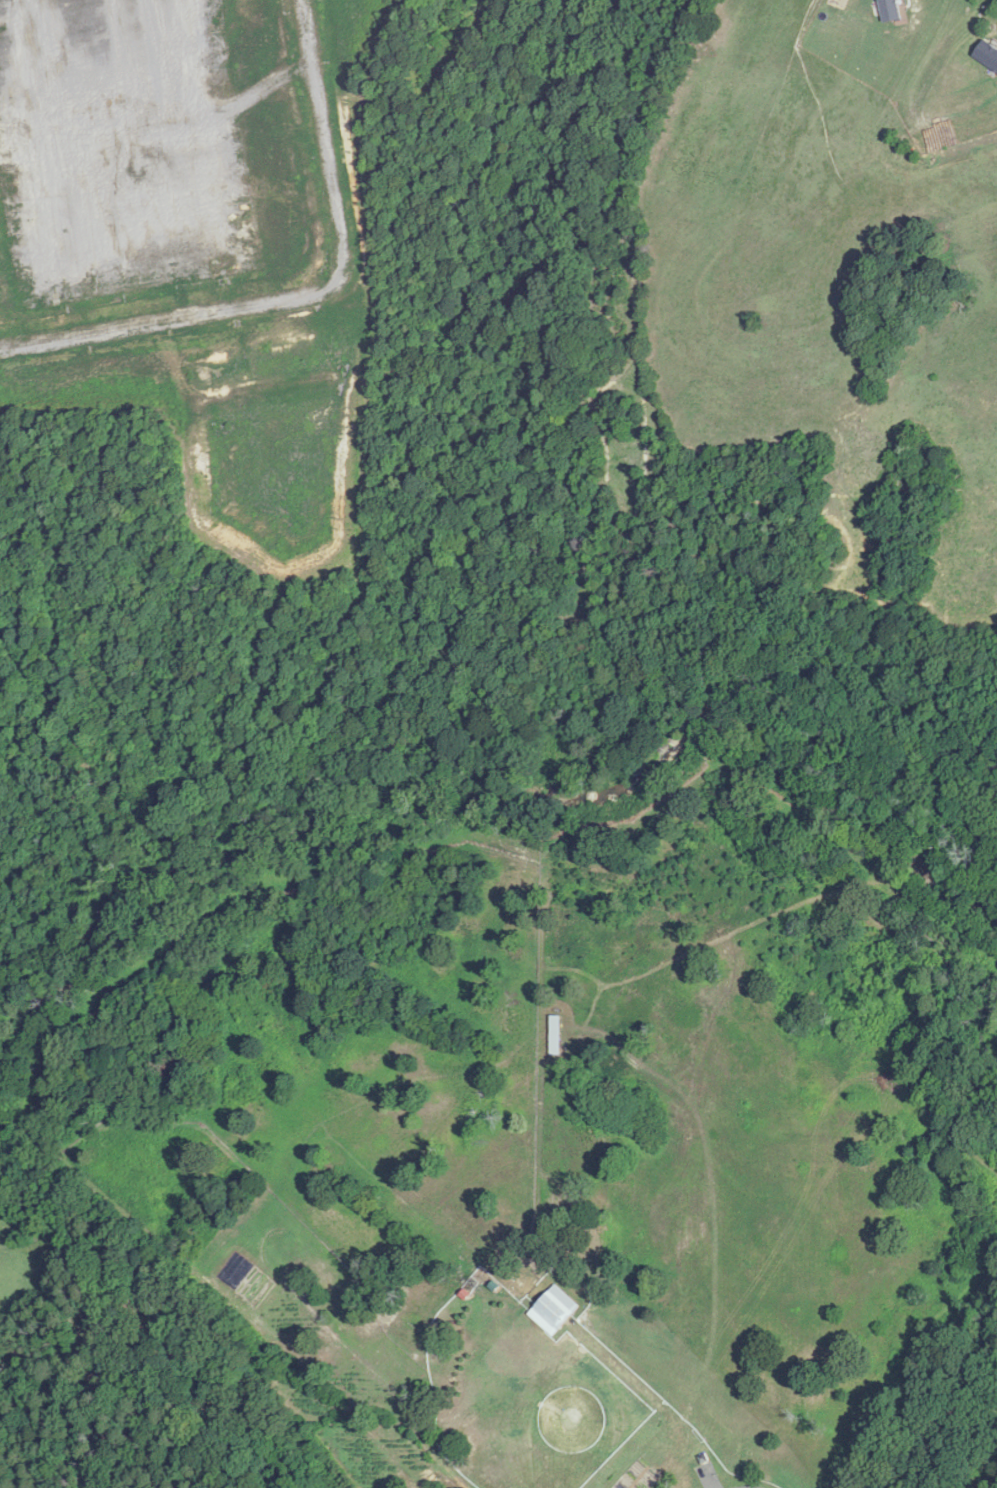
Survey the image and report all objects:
building: (987, 57)
road: (308, 294)
building: (554, 1311)
building: (573, 1420)

